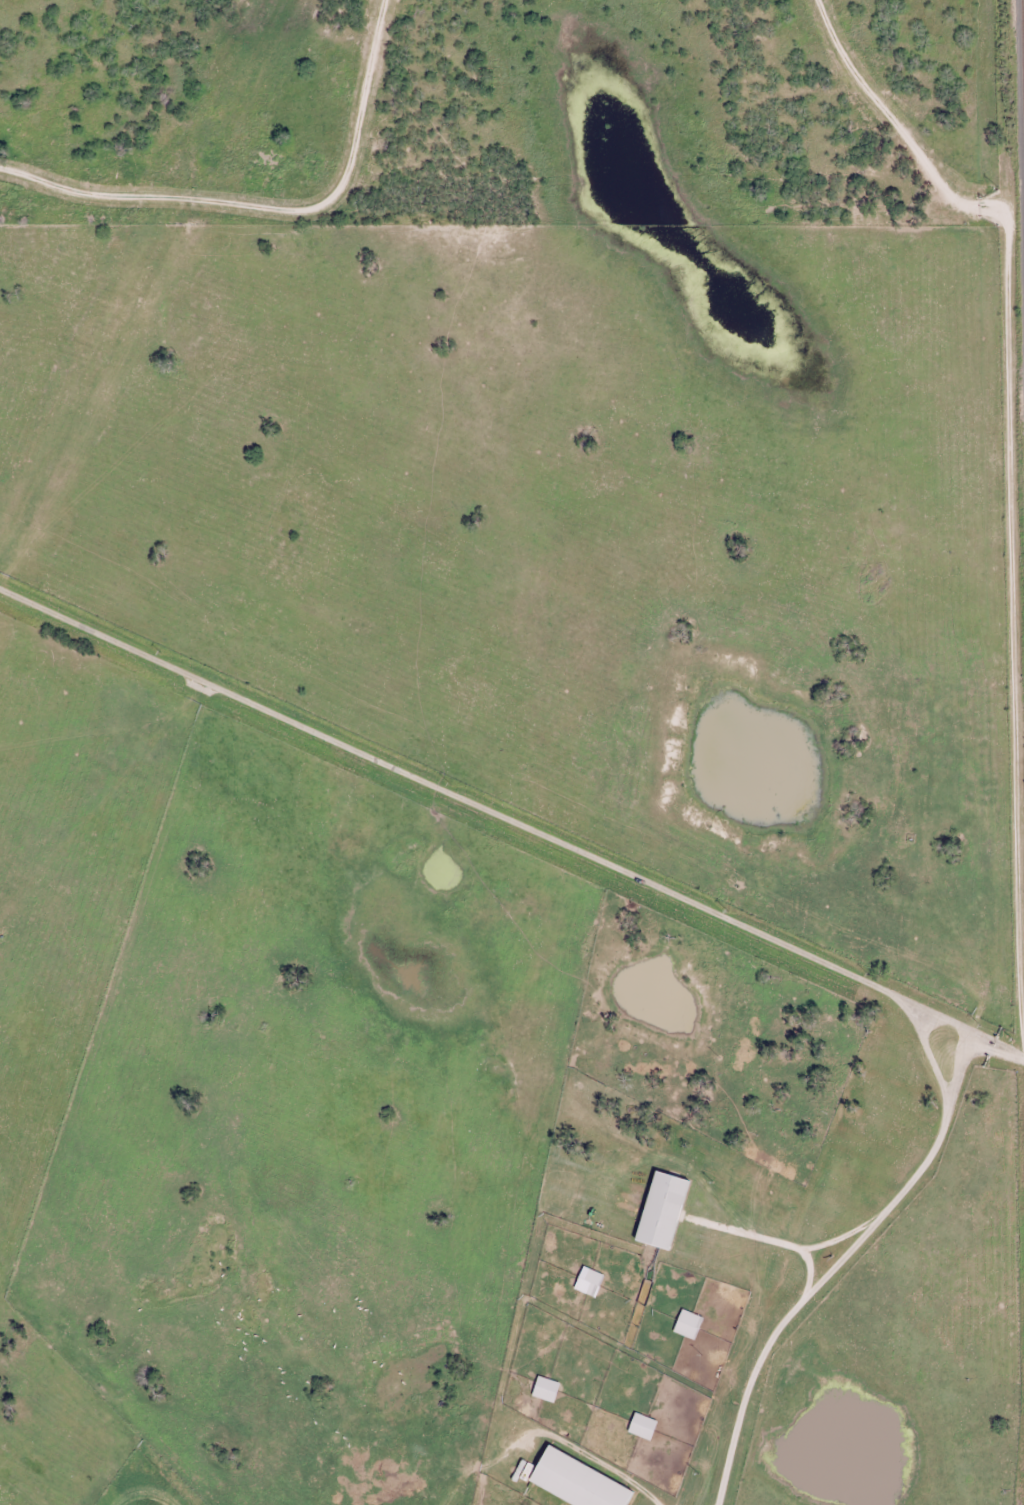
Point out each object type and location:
road: (12, 516)
road: (504, 810)
building: (663, 1208)
road: (407, 1250)
road: (807, 1250)
building: (589, 1280)
building: (689, 1323)
building: (546, 1387)
building: (643, 1425)
building: (579, 1481)

